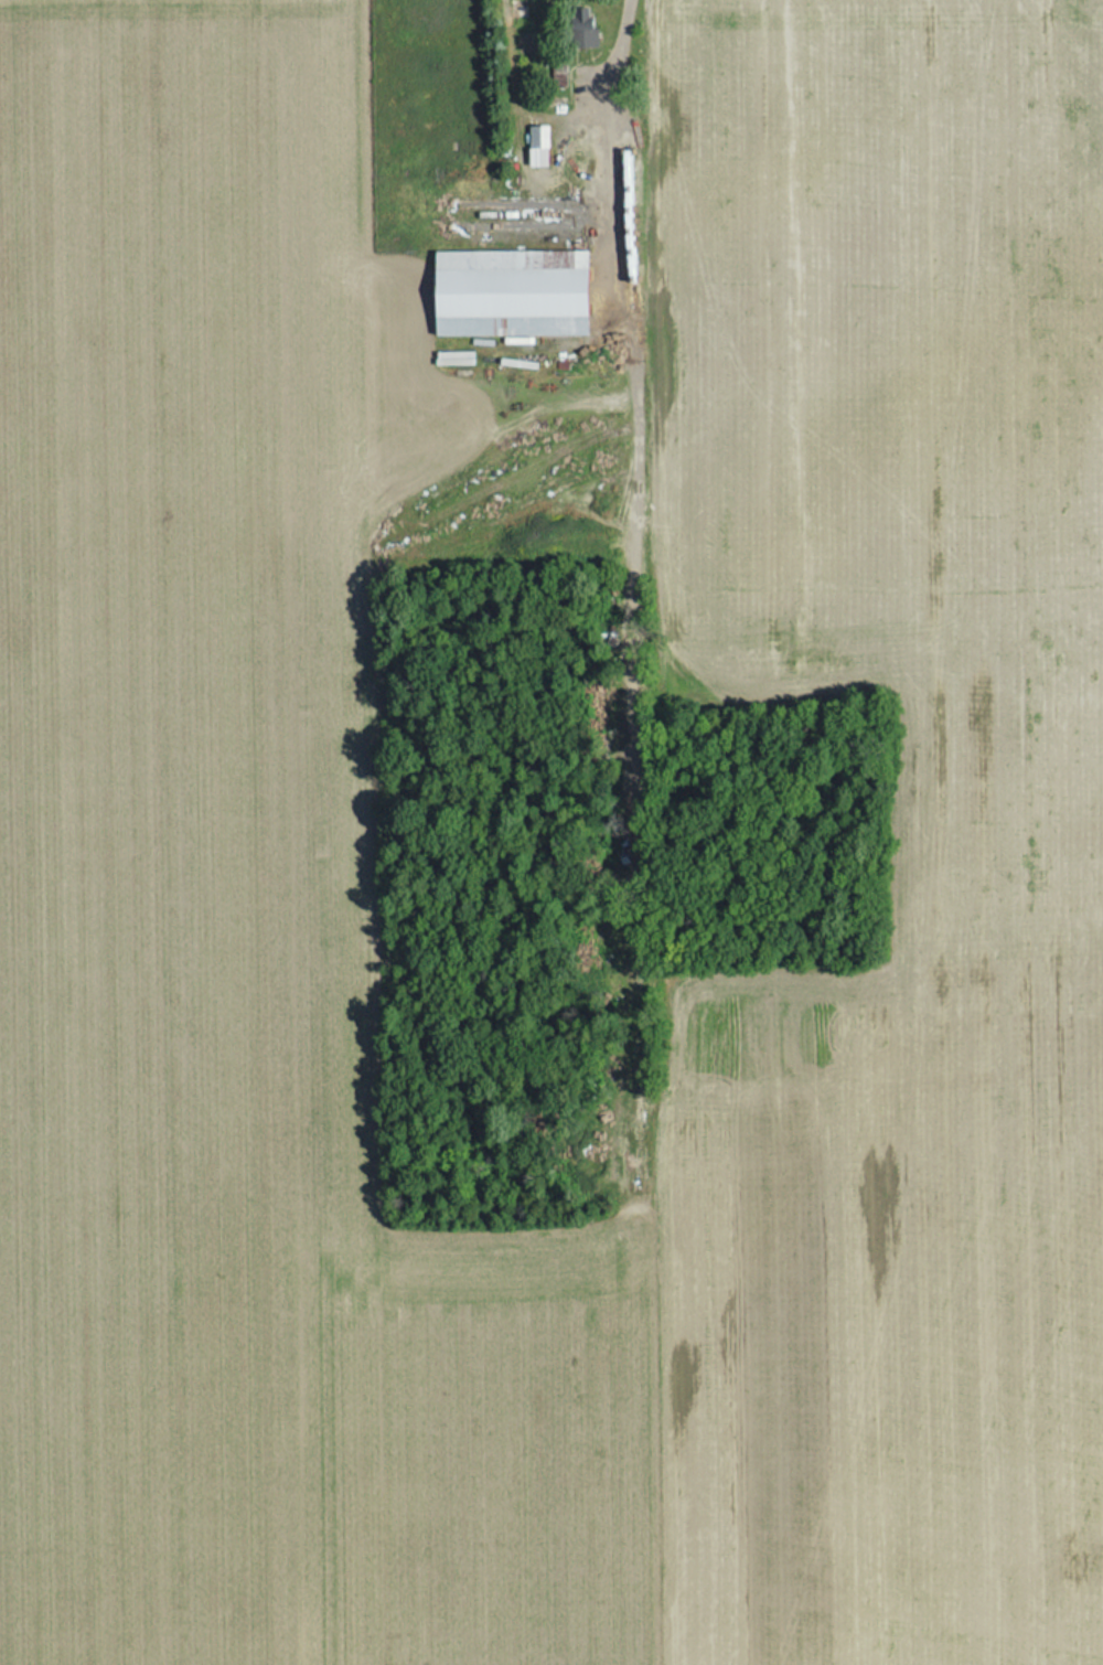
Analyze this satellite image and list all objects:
building: (578, 30)
building: (533, 147)
road: (578, 209)
building: (504, 293)
crop: (188, 832)

